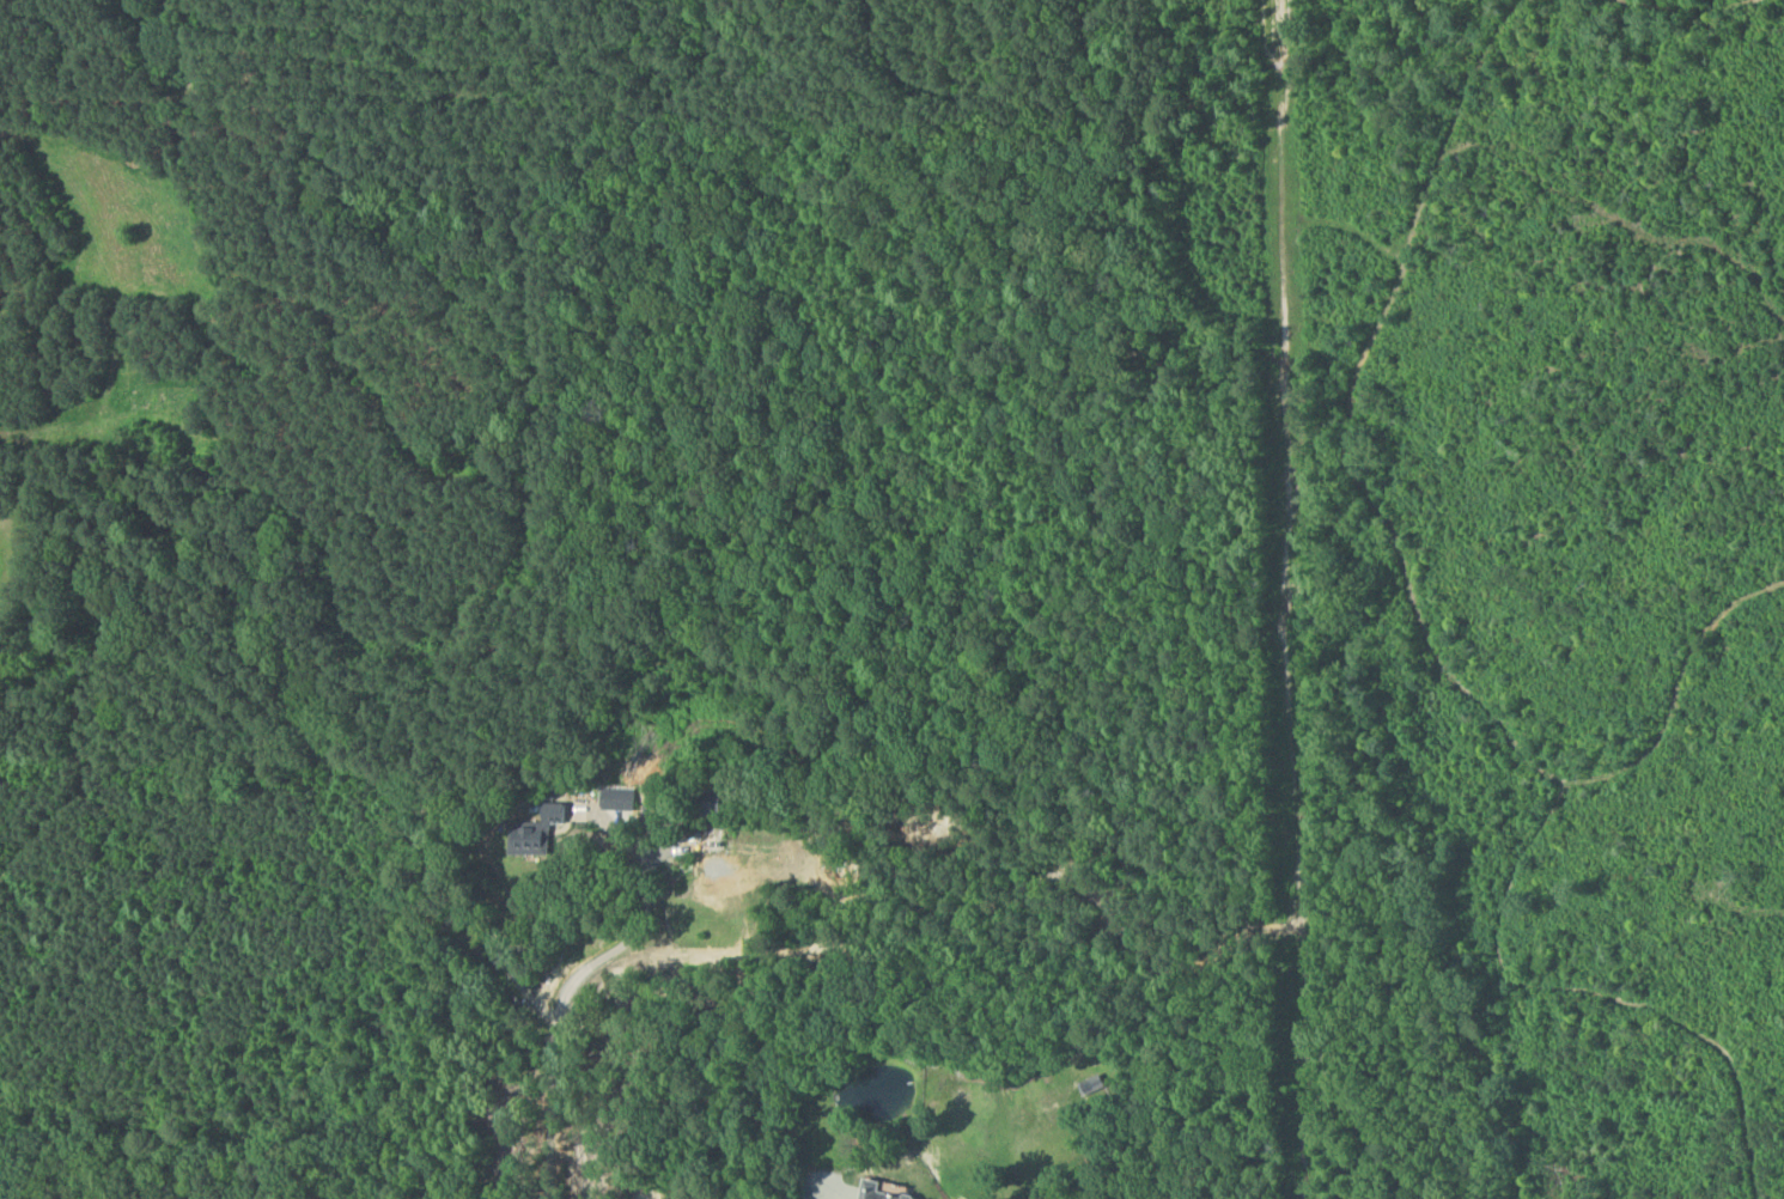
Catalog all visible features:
building: (540, 829)
road: (560, 1012)
building: (1095, 1083)
building: (887, 1191)

